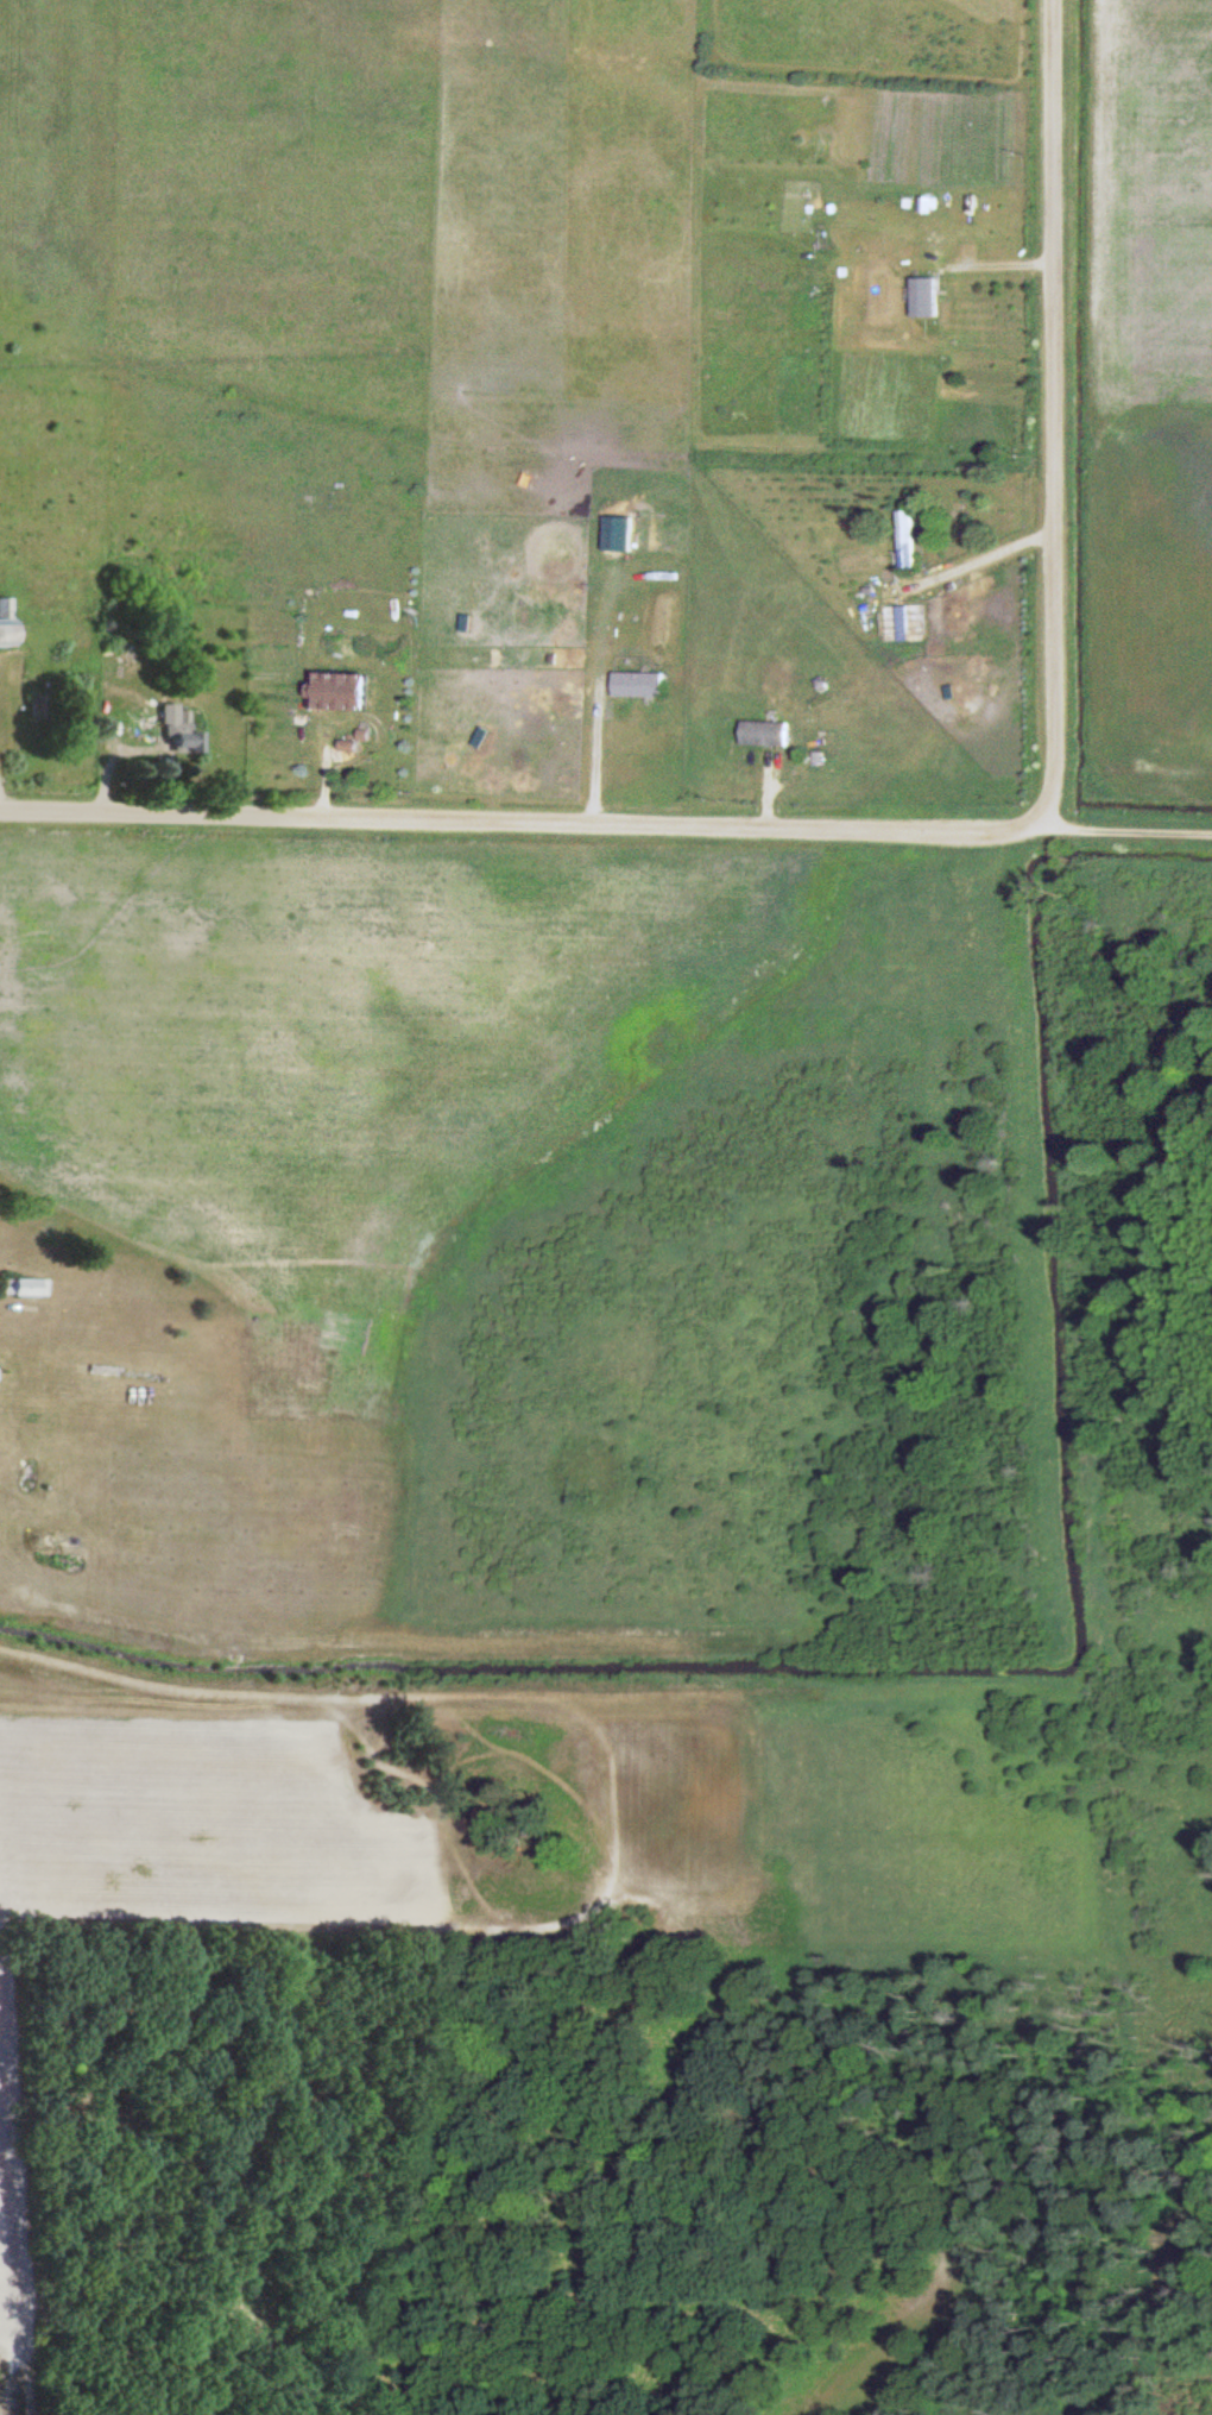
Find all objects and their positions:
building: (921, 297)
road: (1056, 413)
building: (904, 537)
building: (915, 611)
building: (5, 621)
building: (637, 683)
building: (336, 691)
building: (176, 729)
building: (763, 732)
road: (519, 824)
road: (1125, 826)
building: (27, 1287)

